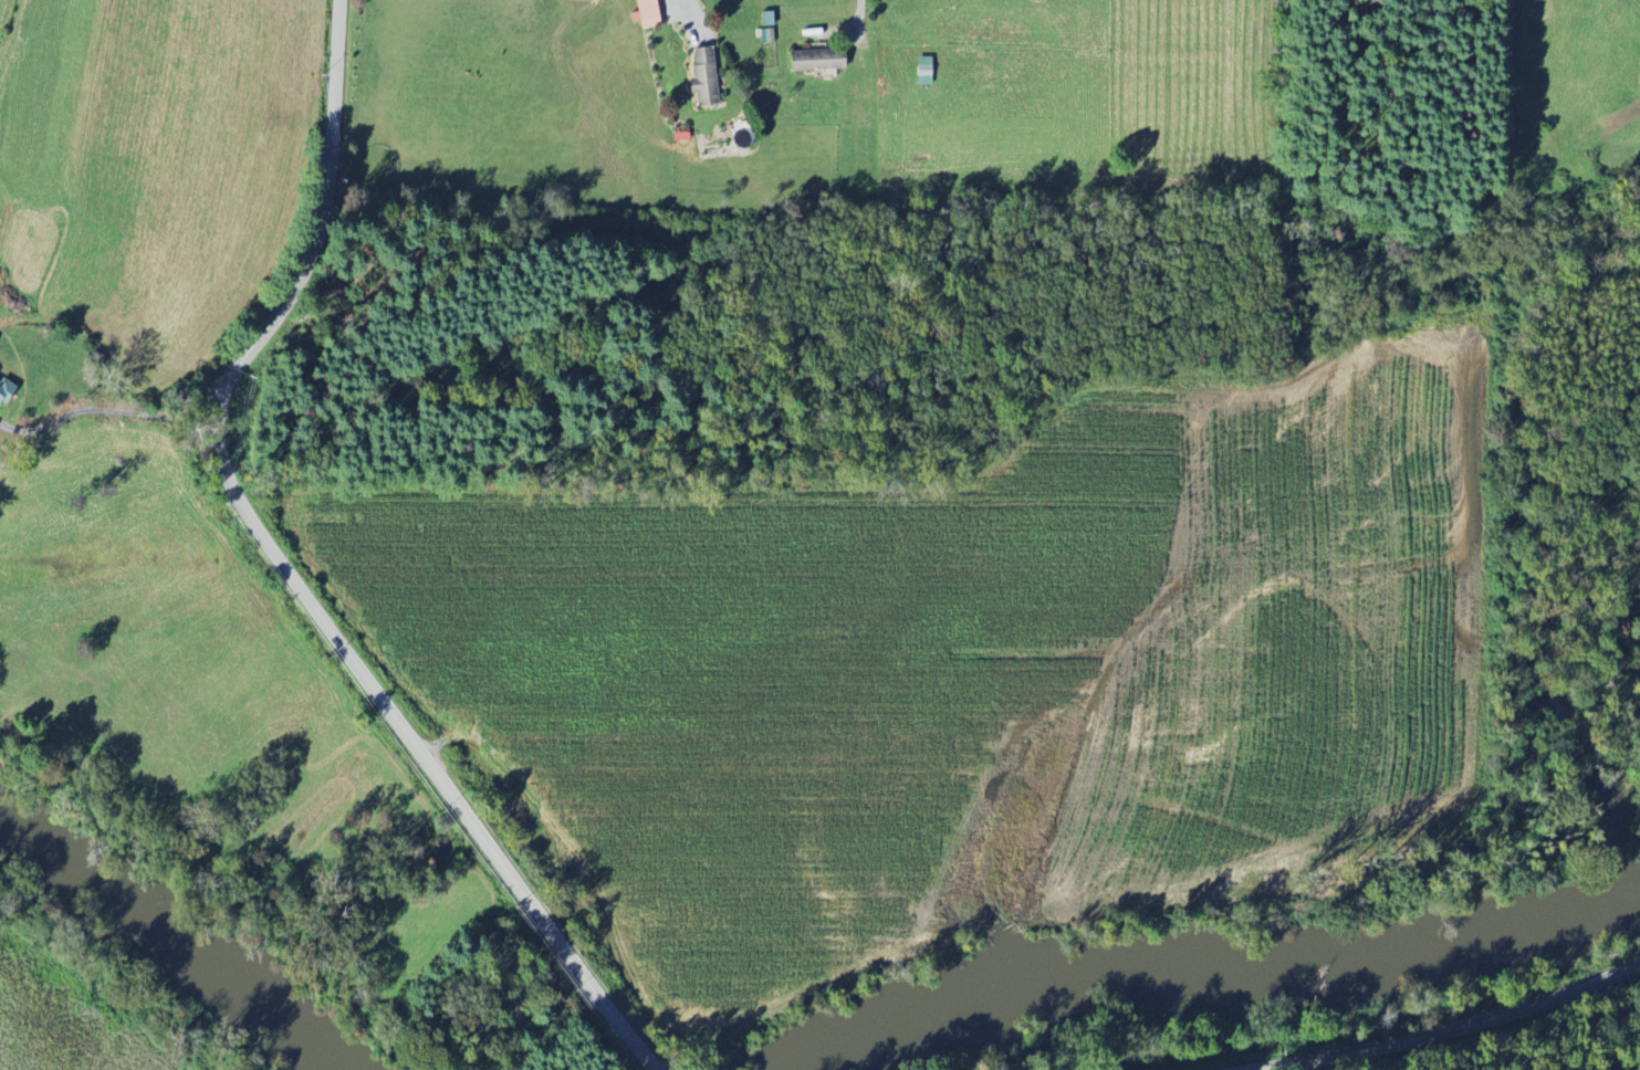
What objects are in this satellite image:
building: (576, 0)
building: (643, 13)
road: (861, 14)
road: (693, 18)
building: (813, 59)
building: (921, 71)
building: (700, 76)
building: (3, 391)
road: (106, 410)
road: (288, 571)
river: (174, 946)
river: (1208, 965)
road: (1448, 1030)

